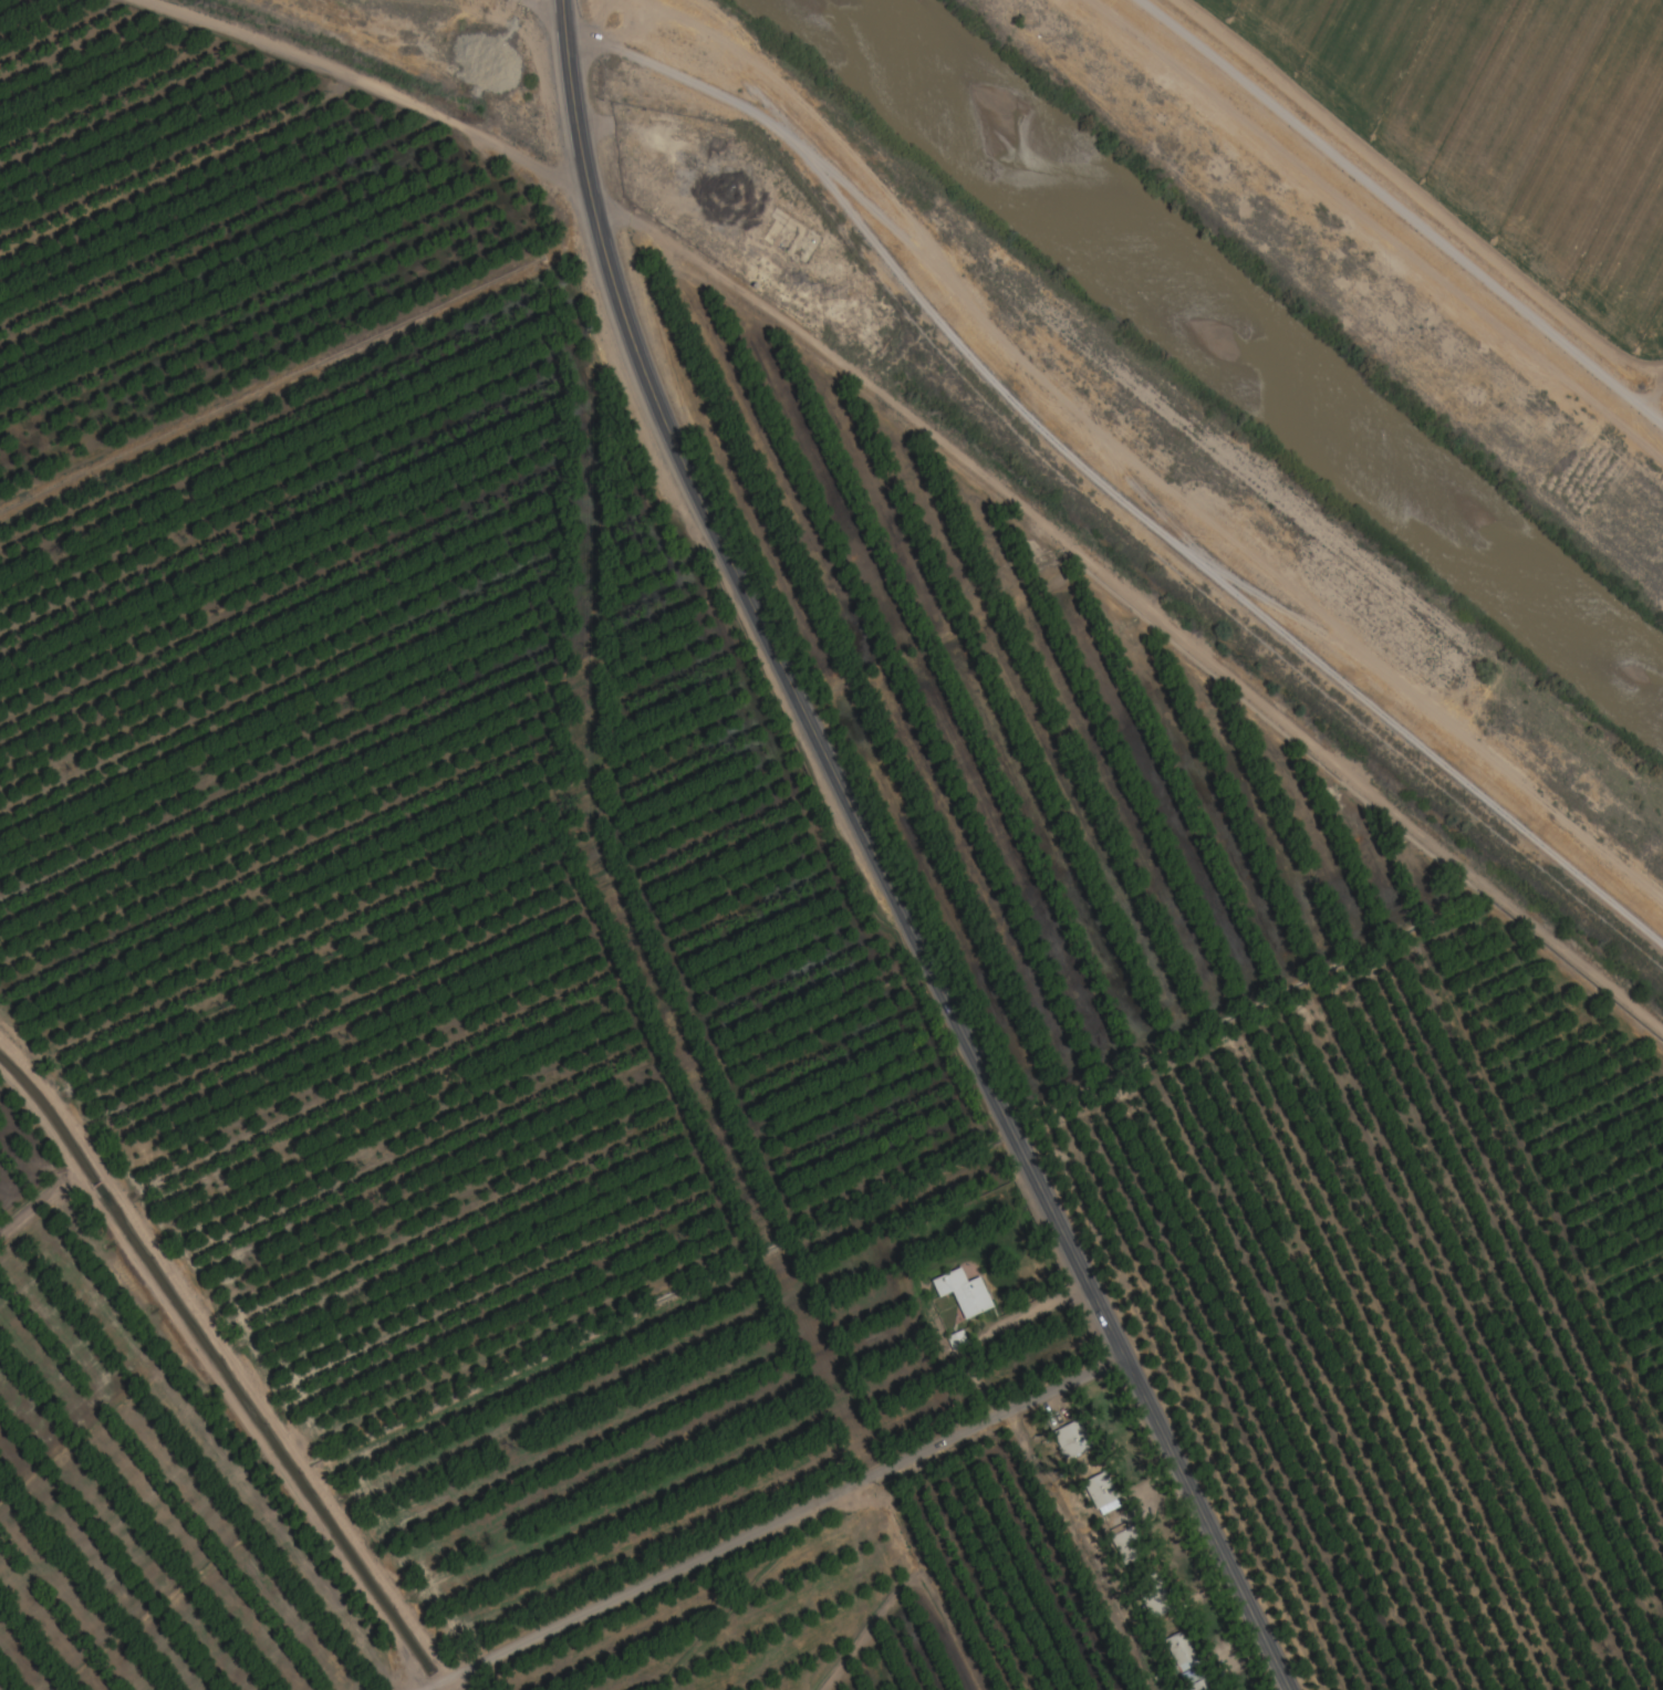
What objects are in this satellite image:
road: (540, 11)
crop: (1506, 126)
road: (1401, 212)
river: (1250, 341)
road: (940, 445)
road: (1102, 489)
road: (875, 860)
building: (964, 1293)
road: (235, 1359)
building: (1072, 1441)
building: (1101, 1492)
road: (784, 1516)
building: (1127, 1547)
building: (1154, 1597)
building: (1182, 1652)
building: (1199, 1682)
road: (436, 1683)

